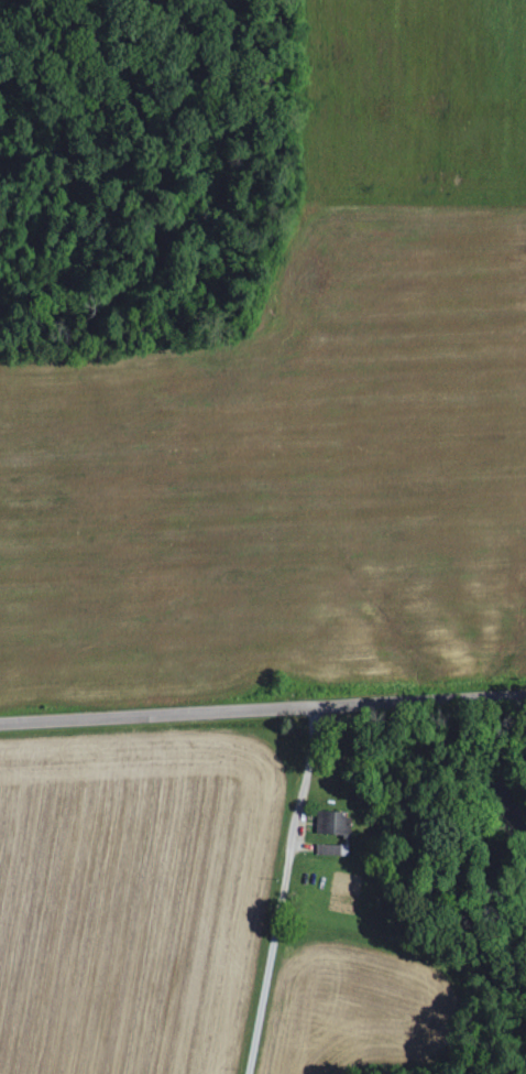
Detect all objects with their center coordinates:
road: (263, 709)
building: (332, 822)
building: (328, 848)
road: (280, 891)

